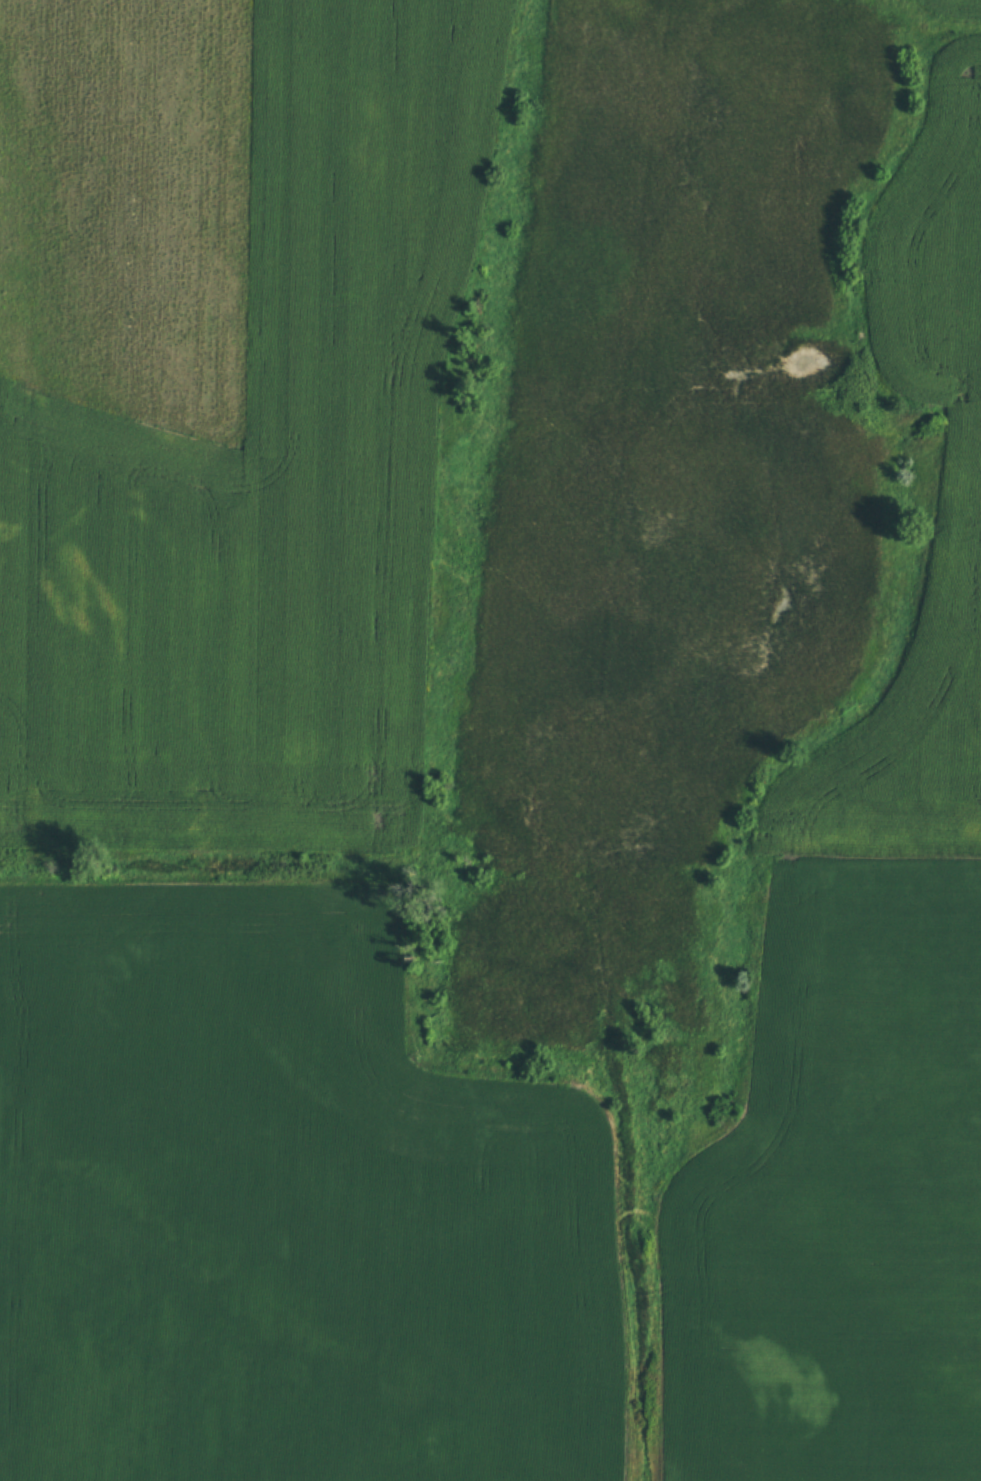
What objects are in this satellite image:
river: (605, 434)

